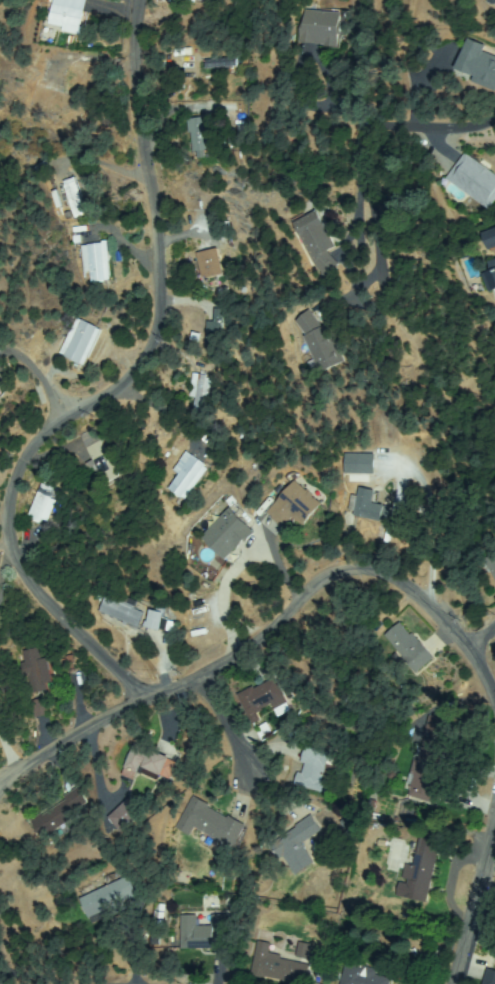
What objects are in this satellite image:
building: (198, 1)
building: (493, 1)
building: (67, 16)
building: (323, 28)
building: (222, 63)
building: (478, 64)
building: (48, 98)
building: (200, 136)
building: (474, 181)
building: (74, 198)
building: (490, 237)
building: (317, 242)
building: (96, 261)
building: (210, 264)
building: (492, 273)
building: (217, 329)
building: (81, 341)
building: (321, 343)
building: (0, 390)
building: (201, 390)
building: (0, 392)
building: (100, 461)
building: (359, 464)
building: (189, 477)
building: (43, 503)
building: (294, 505)
building: (369, 506)
building: (228, 534)
building: (491, 562)
road: (13, 569)
building: (121, 610)
building: (152, 619)
building: (161, 620)
road: (484, 645)
building: (409, 647)
building: (36, 673)
building: (261, 698)
building: (40, 708)
road: (227, 724)
building: (435, 725)
road: (69, 745)
building: (147, 763)
building: (318, 770)
building: (430, 770)
building: (61, 816)
building: (126, 816)
building: (211, 824)
building: (297, 845)
building: (422, 868)
building: (109, 898)
road: (475, 913)
building: (204, 934)
building: (304, 950)
building: (431, 958)
building: (278, 967)
building: (361, 976)
building: (490, 977)

